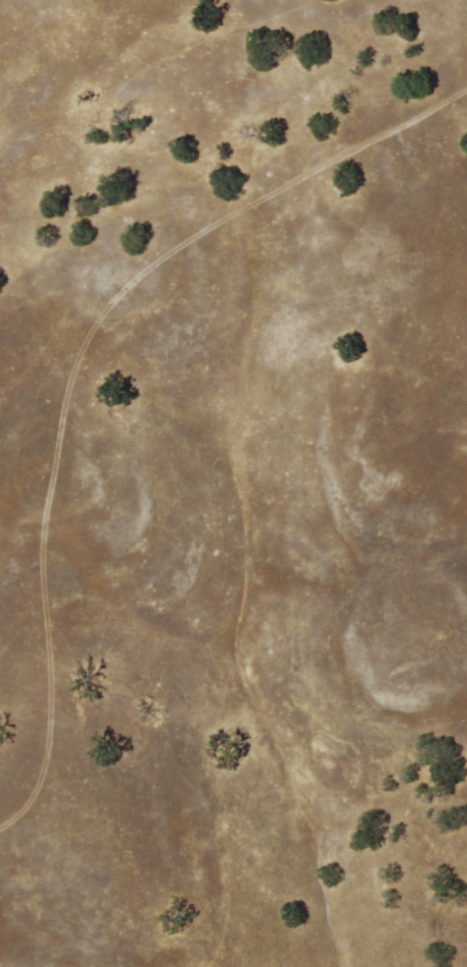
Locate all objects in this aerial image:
road: (72, 363)

